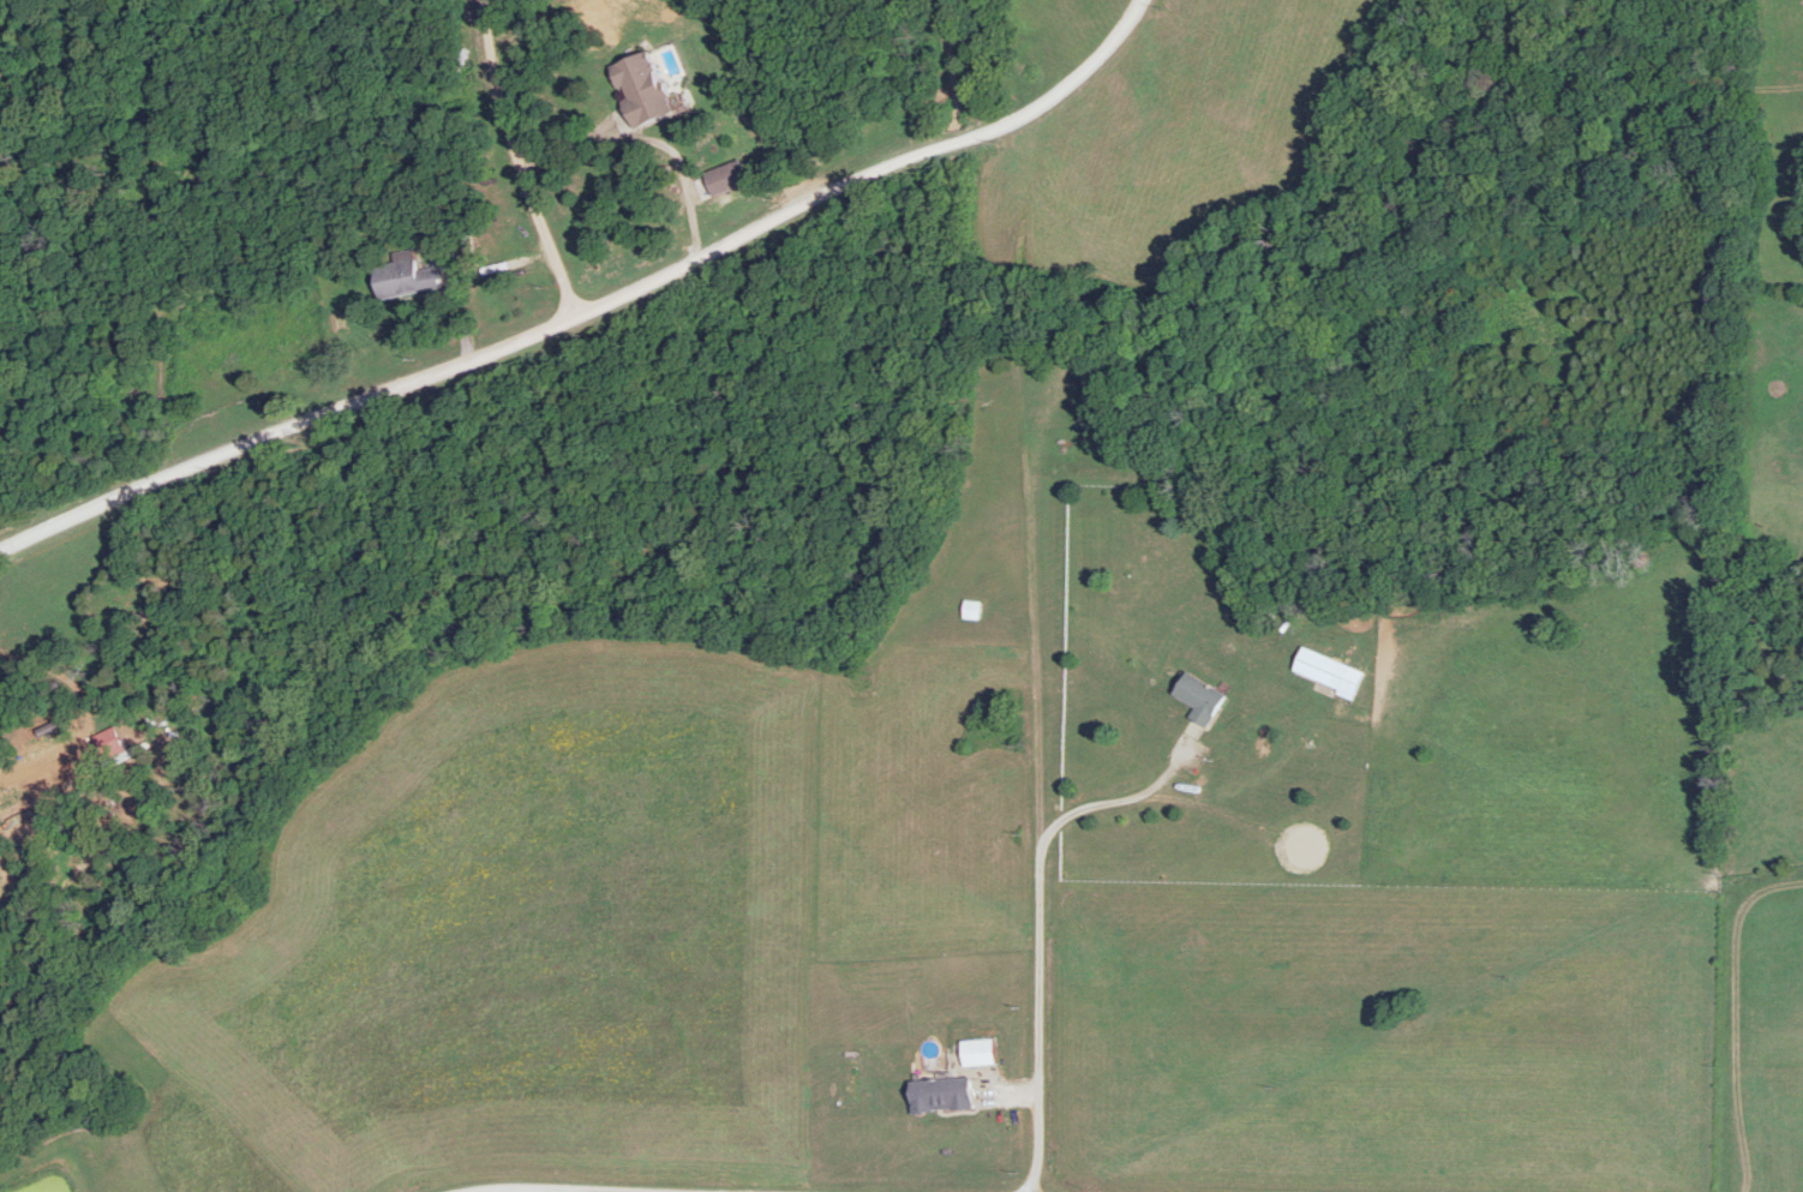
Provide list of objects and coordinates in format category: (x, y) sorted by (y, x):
building: (645, 86)
building: (729, 175)
building: (415, 270)
road: (591, 303)
building: (972, 607)
building: (1329, 670)
building: (1202, 696)
road: (1043, 924)
building: (981, 1050)
building: (942, 1092)

